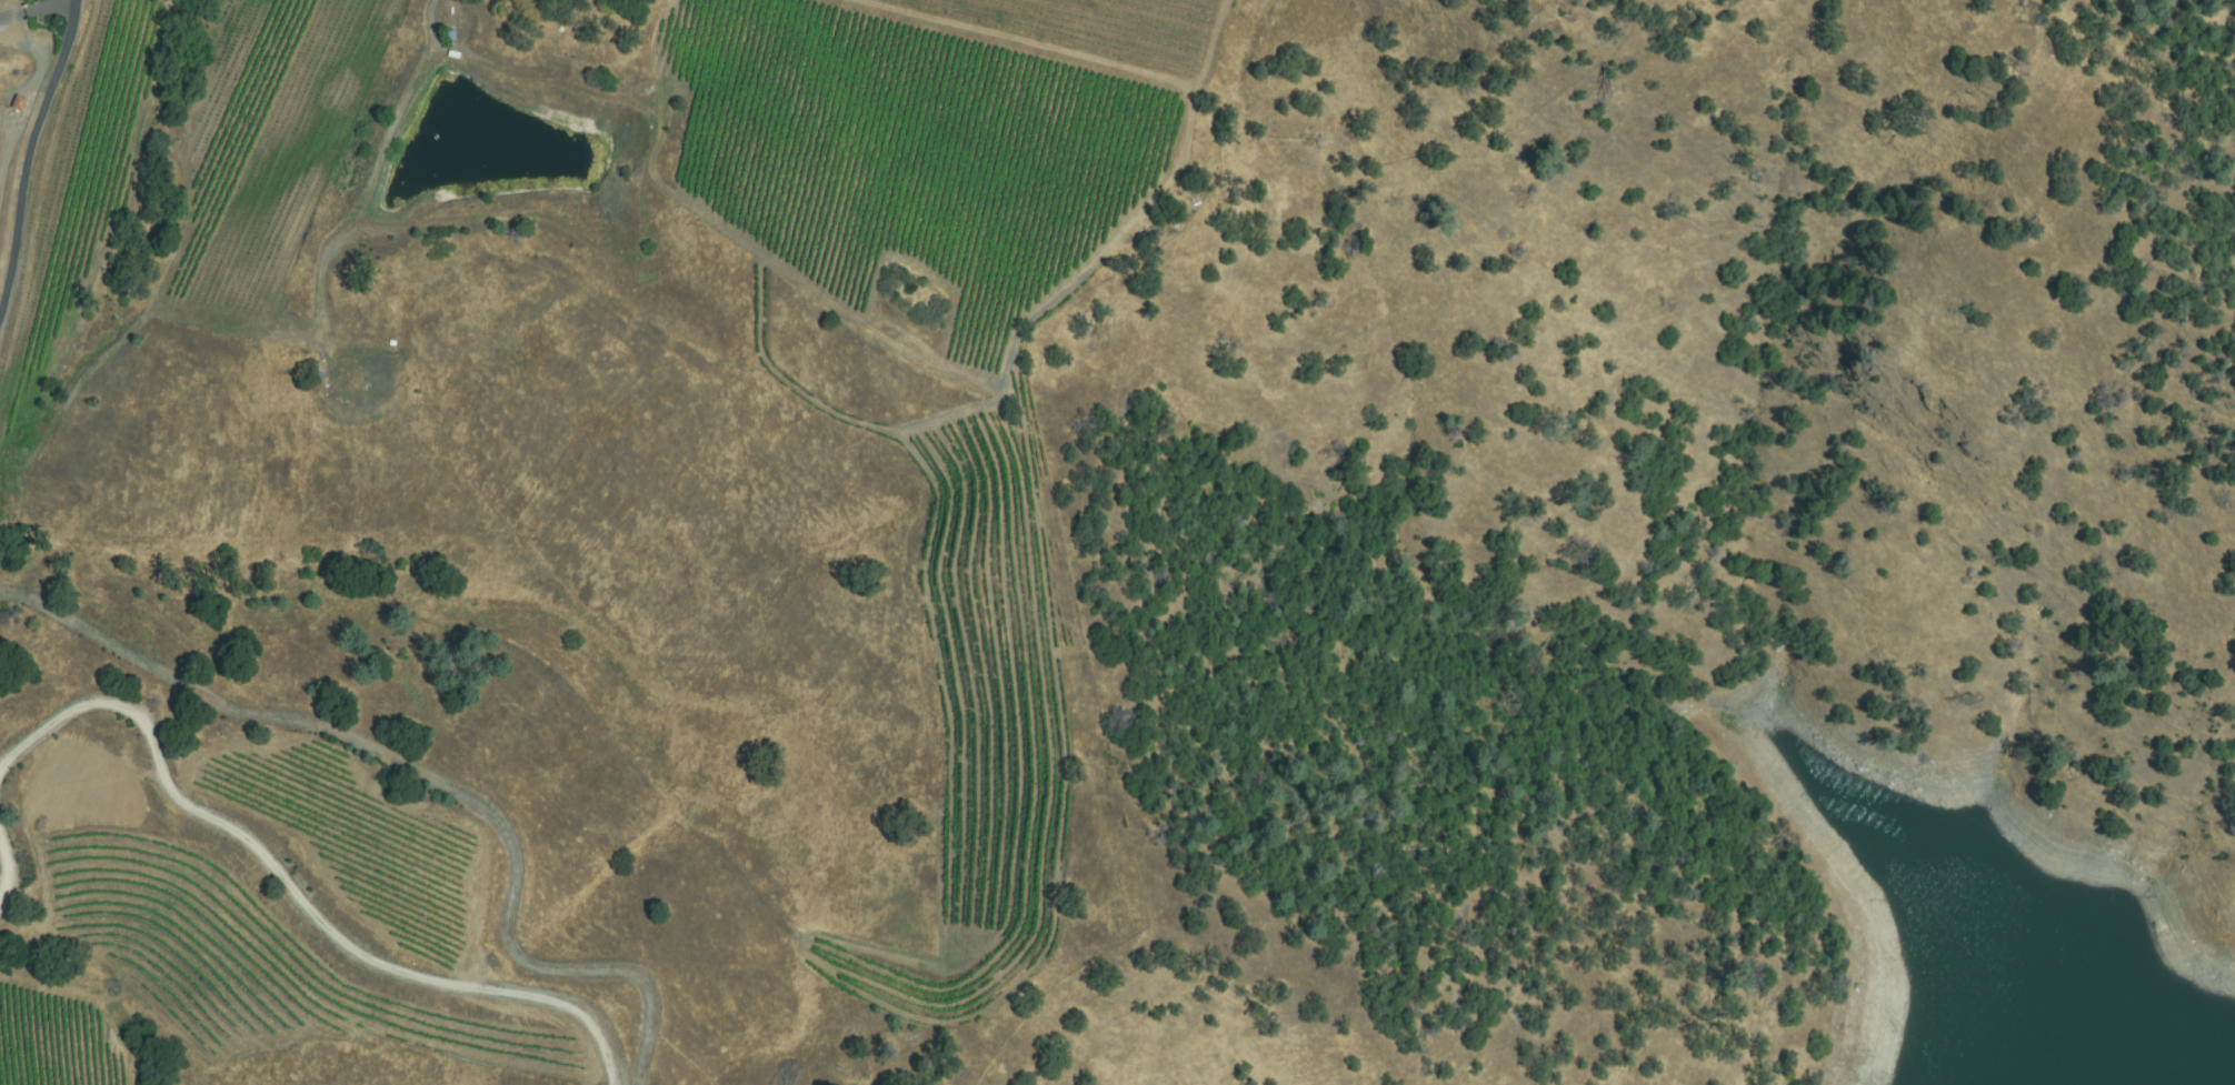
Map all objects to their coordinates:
road: (29, 153)

